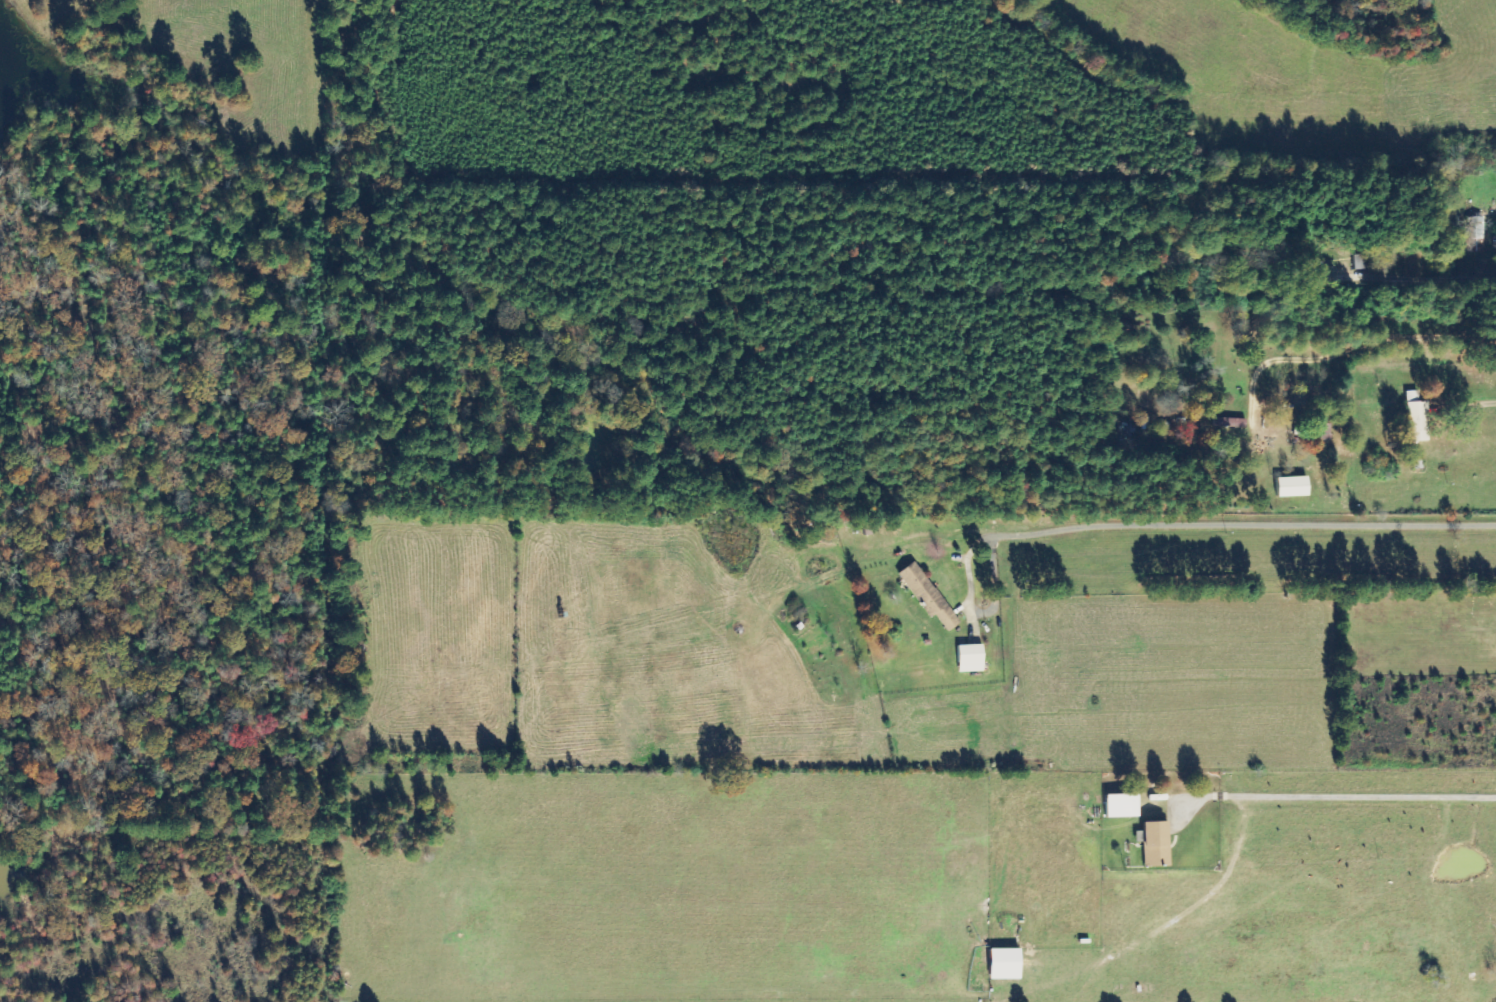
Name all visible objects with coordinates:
building: (1473, 228)
building: (1358, 262)
building: (1414, 417)
building: (1228, 423)
building: (1322, 432)
building: (1289, 487)
building: (926, 595)
building: (968, 658)
building: (1119, 806)
building: (1153, 844)
building: (1001, 964)

